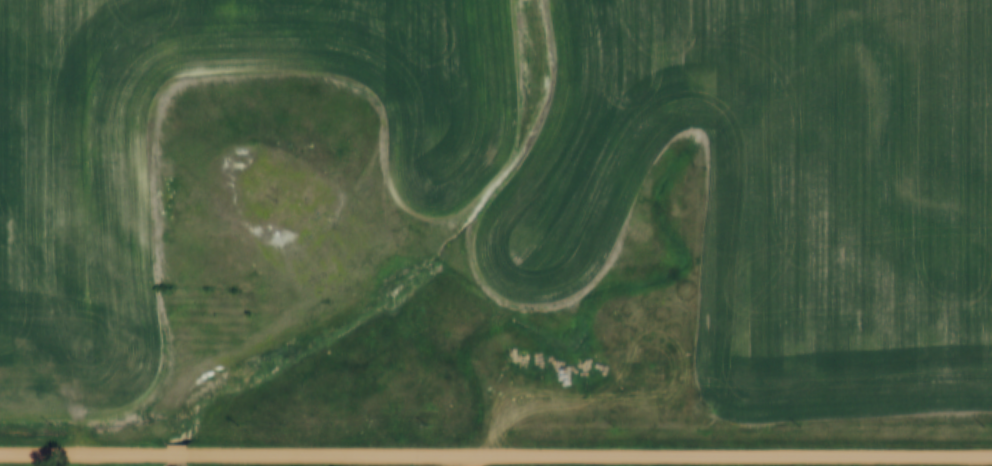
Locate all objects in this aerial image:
road: (78, 452)
road: (167, 452)
road: (584, 455)
road: (476, 460)

